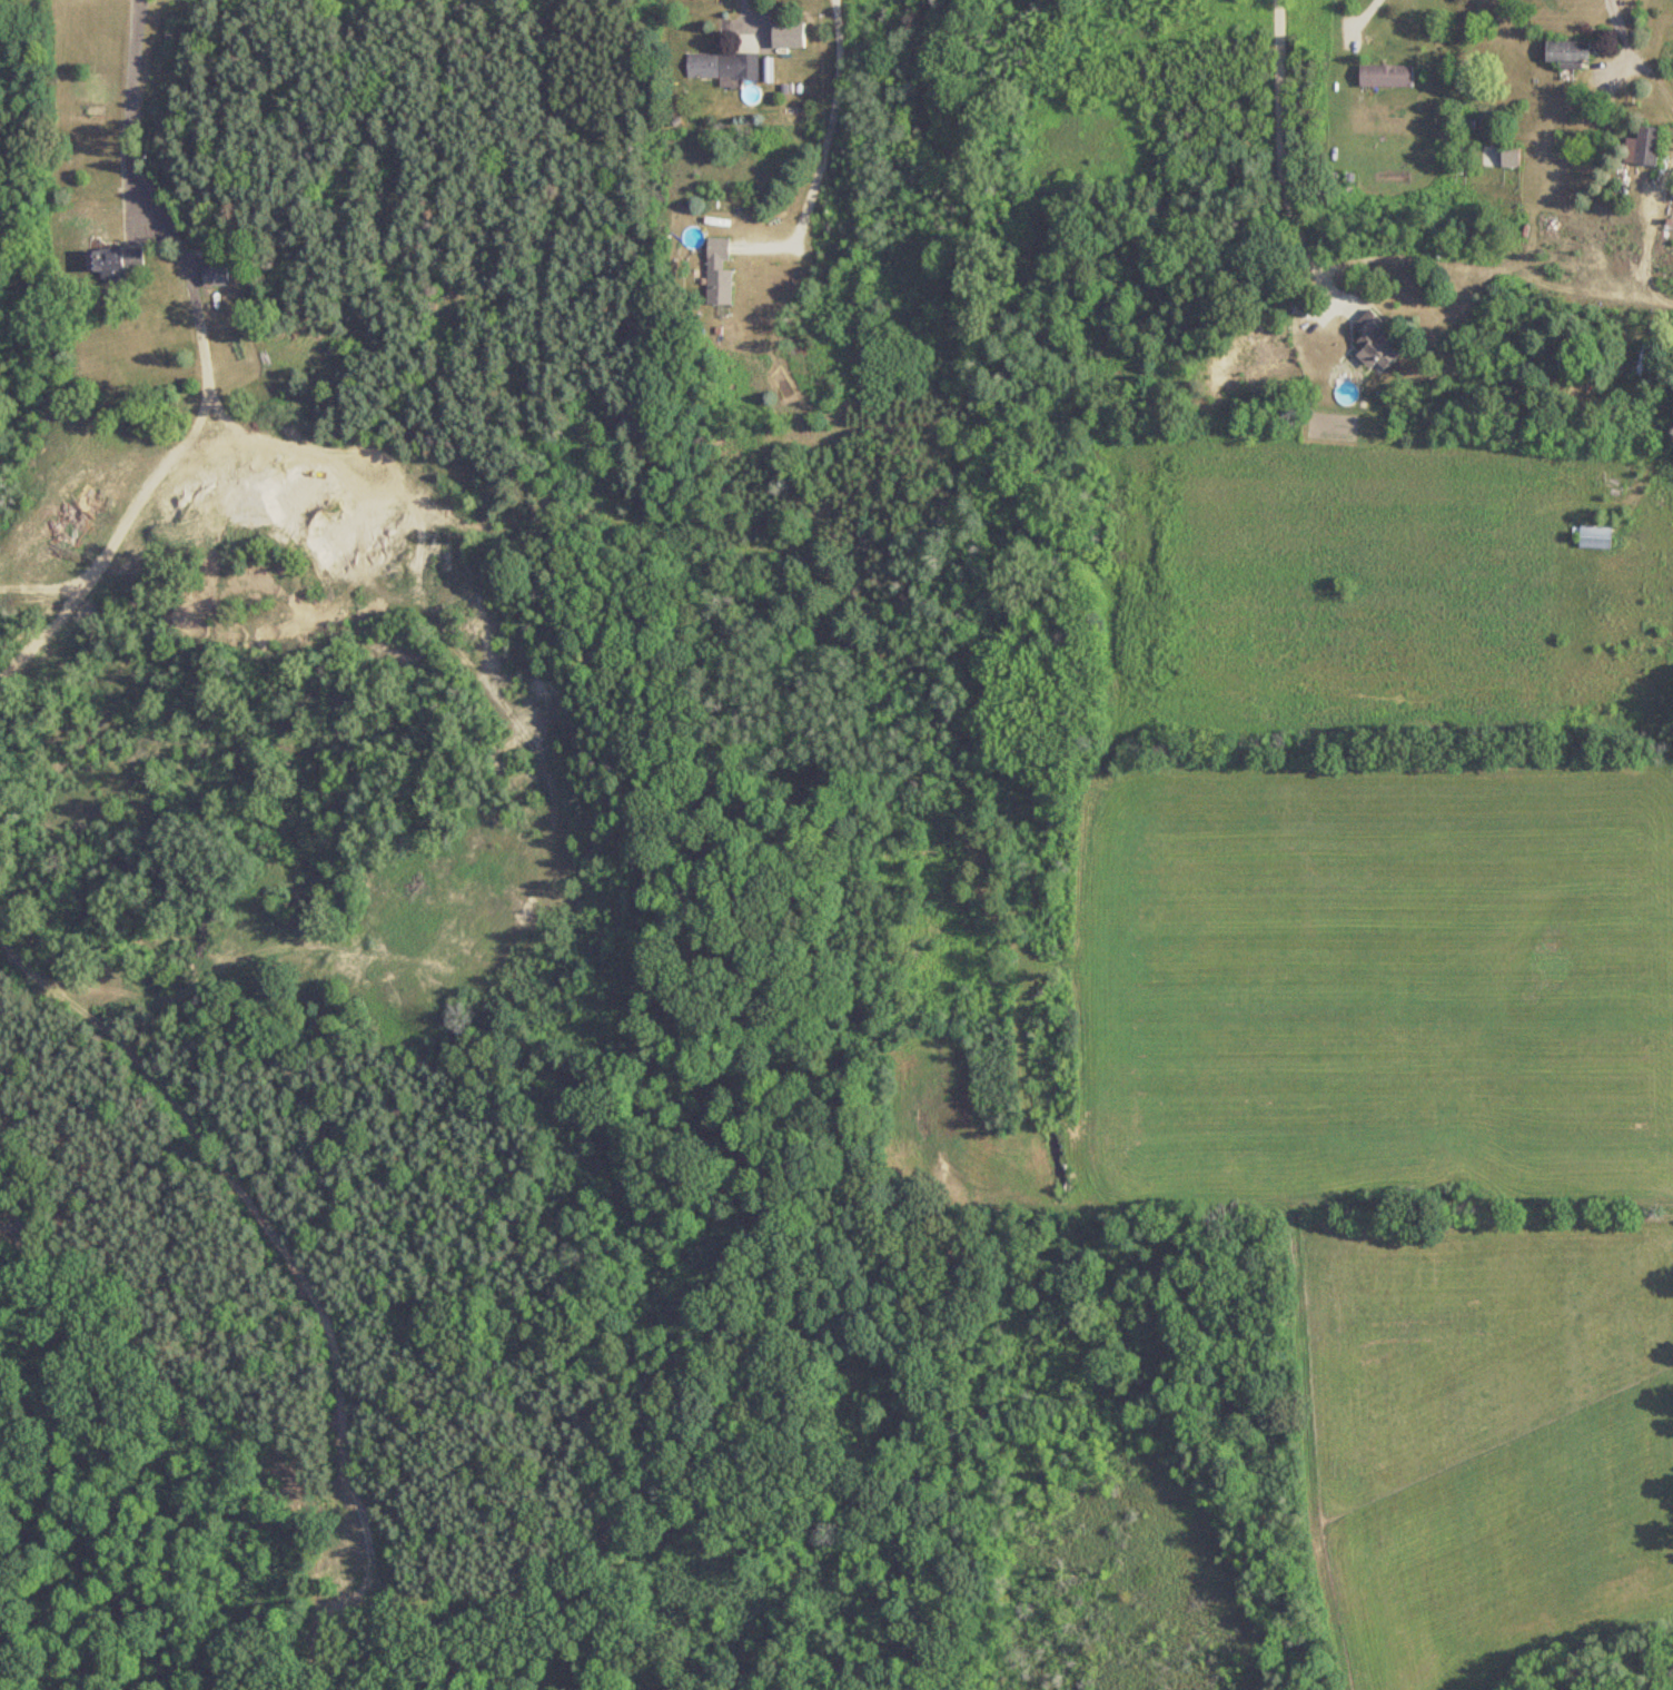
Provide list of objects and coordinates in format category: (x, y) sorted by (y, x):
building: (788, 34)
road: (1637, 50)
building: (1567, 53)
building: (723, 66)
building: (1386, 76)
road: (135, 120)
road: (828, 141)
building: (1649, 146)
building: (1509, 158)
road: (1402, 251)
building: (111, 264)
building: (719, 273)
building: (216, 276)
road: (1655, 288)
building: (1375, 343)
building: (1643, 359)
building: (1596, 537)

